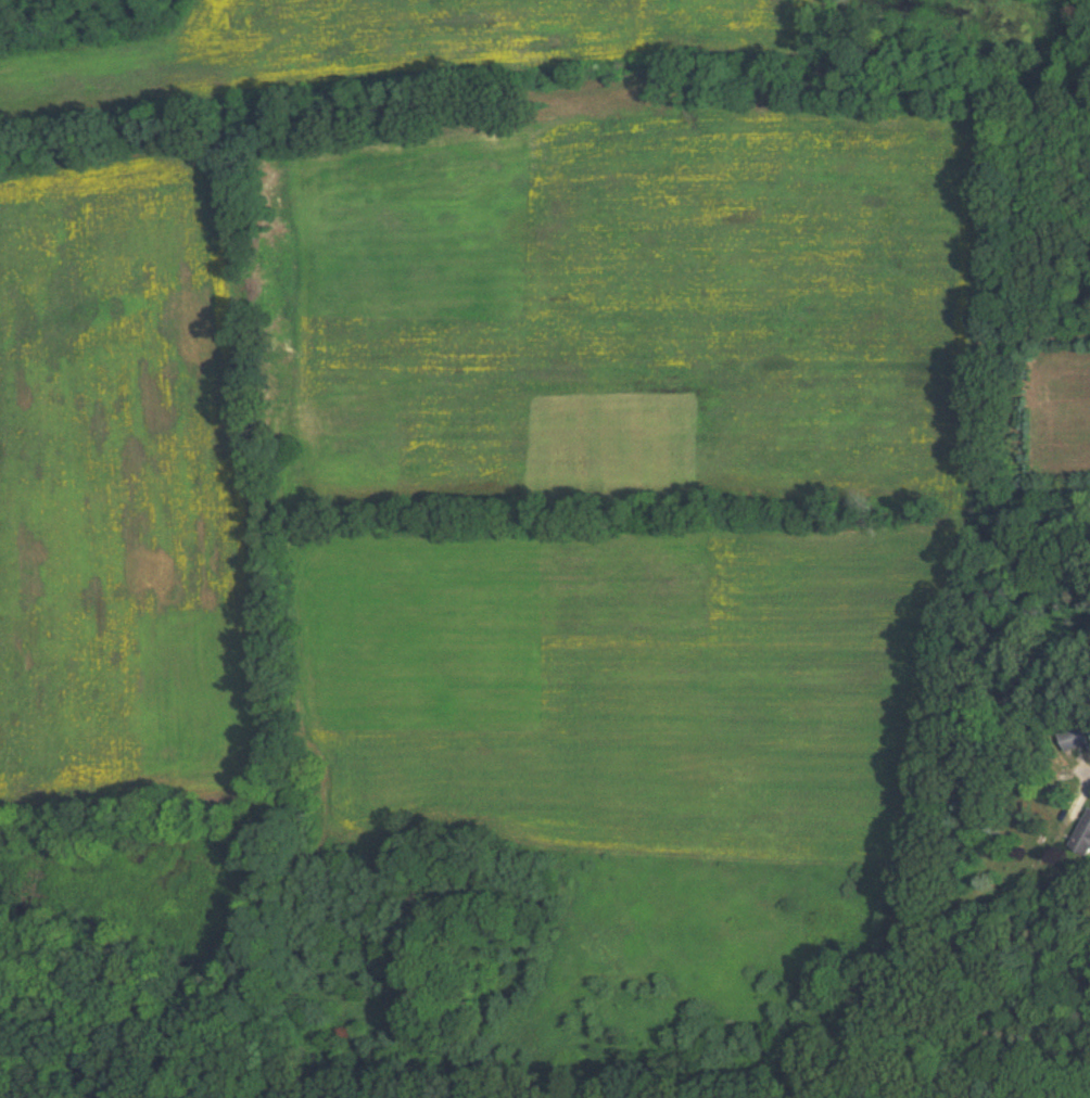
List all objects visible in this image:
building: (1075, 739)
road: (1086, 780)
building: (1081, 834)

